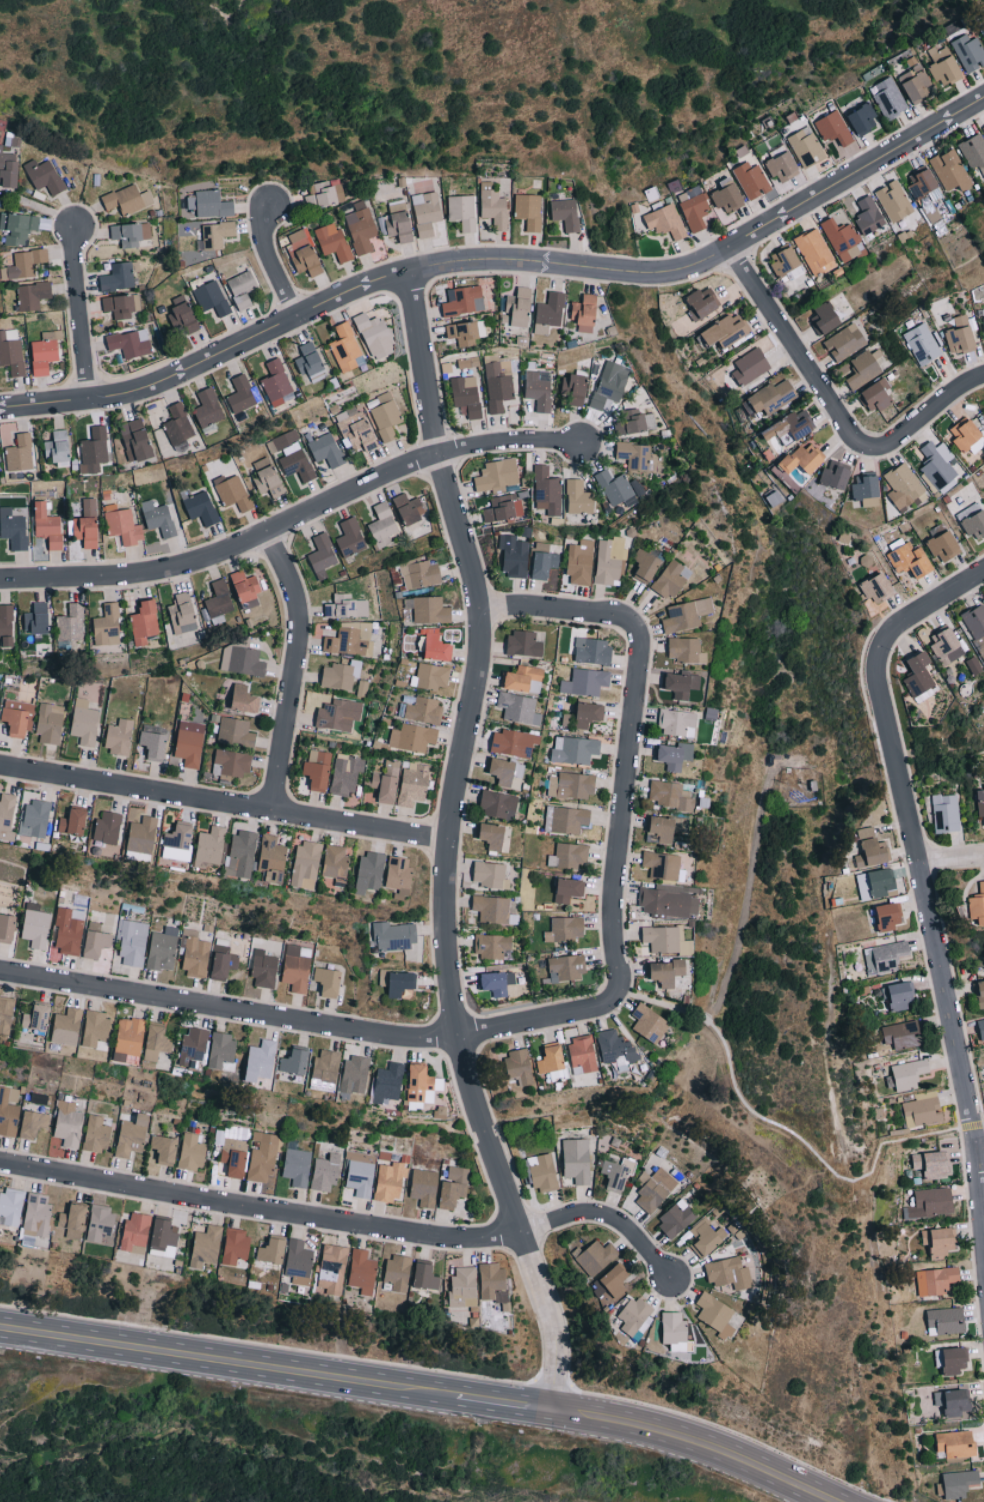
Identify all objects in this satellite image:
building: (982, 29)
building: (969, 53)
building: (944, 66)
building: (916, 83)
building: (890, 97)
building: (863, 119)
building: (983, 127)
building: (833, 128)
building: (805, 147)
building: (973, 152)
building: (783, 167)
building: (8, 169)
building: (950, 171)
building: (44, 176)
building: (750, 180)
building: (324, 193)
building: (727, 196)
building: (128, 199)
building: (894, 201)
building: (210, 204)
building: (493, 206)
building: (693, 208)
building: (462, 211)
building: (528, 211)
building: (426, 213)
building: (565, 214)
building: (869, 216)
building: (665, 221)
building: (397, 222)
building: (18, 227)
building: (360, 227)
building: (131, 234)
building: (217, 235)
building: (332, 241)
building: (843, 241)
building: (815, 252)
building: (303, 253)
road: (502, 260)
road: (275, 261)
building: (26, 263)
building: (785, 263)
building: (117, 277)
building: (242, 289)
building: (32, 296)
building: (211, 299)
building: (463, 301)
building: (702, 304)
building: (122, 306)
building: (519, 307)
road: (85, 313)
building: (549, 313)
building: (585, 313)
building: (183, 316)
building: (826, 318)
building: (726, 331)
building: (466, 332)
building: (376, 336)
building: (960, 336)
building: (845, 342)
building: (130, 343)
building: (922, 345)
building: (345, 348)
building: (11, 352)
building: (45, 352)
building: (310, 361)
building: (750, 367)
building: (863, 370)
building: (277, 384)
building: (610, 384)
building: (496, 387)
building: (575, 389)
building: (538, 391)
building: (241, 395)
building: (466, 396)
building: (877, 397)
building: (770, 398)
road: (834, 401)
building: (208, 408)
building: (384, 416)
building: (636, 424)
building: (178, 427)
building: (791, 428)
building: (357, 432)
building: (966, 435)
building: (136, 440)
building: (283, 441)
building: (57, 446)
building: (326, 450)
building: (93, 451)
building: (19, 454)
building: (637, 457)
building: (804, 459)
building: (297, 465)
building: (937, 465)
building: (497, 475)
building: (836, 475)
building: (268, 478)
building: (902, 486)
building: (614, 487)
building: (866, 487)
building: (547, 490)
building: (233, 492)
building: (579, 497)
building: (201, 508)
building: (409, 509)
building: (502, 509)
building: (160, 520)
road: (297, 520)
building: (973, 521)
building: (87, 524)
building: (122, 525)
building: (382, 525)
building: (48, 526)
building: (13, 529)
building: (350, 537)
building: (943, 543)
building: (322, 555)
building: (515, 555)
building: (609, 559)
building: (544, 560)
building: (910, 561)
building: (581, 562)
building: (646, 565)
building: (419, 573)
building: (672, 578)
building: (246, 585)
building: (877, 587)
building: (218, 599)
building: (346, 606)
building: (428, 609)
road: (562, 612)
building: (183, 613)
building: (686, 614)
building: (37, 618)
building: (144, 621)
building: (71, 623)
building: (6, 624)
building: (107, 625)
building: (350, 638)
building: (524, 643)
building: (945, 643)
building: (437, 647)
building: (593, 650)
building: (686, 650)
building: (242, 660)
road: (298, 669)
building: (914, 672)
building: (341, 674)
building: (431, 676)
building: (523, 678)
building: (585, 681)
building: (686, 686)
building: (243, 698)
building: (519, 707)
building: (421, 709)
building: (339, 714)
building: (585, 715)
building: (16, 717)
building: (676, 721)
building: (84, 722)
building: (49, 723)
building: (236, 732)
building: (119, 736)
building: (413, 737)
building: (154, 741)
building: (189, 742)
building: (513, 742)
building: (575, 749)
building: (675, 754)
building: (234, 761)
building: (318, 769)
building: (508, 772)
building: (345, 774)
building: (386, 781)
building: (572, 785)
building: (670, 795)
road: (225, 802)
building: (977, 803)
building: (498, 804)
building: (944, 813)
road: (623, 815)
building: (6, 816)
building: (35, 817)
building: (566, 818)
building: (73, 821)
building: (107, 827)
building: (662, 828)
building: (142, 835)
building: (495, 836)
building: (179, 841)
road: (450, 845)
building: (210, 848)
building: (871, 849)
building: (242, 853)
road: (918, 853)
building: (569, 855)
building: (272, 858)
road: (952, 861)
building: (305, 864)
building: (335, 864)
building: (662, 865)
building: (369, 871)
building: (490, 874)
building: (399, 876)
building: (882, 882)
building: (569, 889)
building: (667, 902)
building: (976, 905)
building: (493, 909)
building: (889, 916)
building: (36, 925)
building: (7, 927)
building: (566, 928)
building: (68, 931)
building: (397, 938)
building: (666, 940)
building: (96, 941)
building: (133, 943)
building: (492, 946)
building: (163, 949)
building: (195, 953)
building: (886, 955)
building: (224, 962)
building: (297, 967)
building: (264, 968)
building: (566, 968)
building: (329, 981)
building: (497, 982)
building: (399, 983)
building: (977, 993)
building: (900, 994)
building: (6, 1014)
building: (37, 1017)
road: (307, 1023)
building: (650, 1023)
building: (67, 1026)
building: (979, 1029)
building: (97, 1030)
building: (903, 1034)
building: (130, 1040)
building: (157, 1042)
building: (194, 1045)
building: (616, 1048)
building: (222, 1049)
building: (583, 1052)
building: (261, 1060)
building: (295, 1062)
building: (518, 1067)
building: (325, 1071)
building: (355, 1074)
building: (909, 1074)
building: (389, 1081)
building: (421, 1083)
building: (9, 1110)
building: (922, 1111)
building: (34, 1124)
building: (69, 1124)
road: (785, 1130)
building: (97, 1134)
building: (132, 1135)
road: (982, 1142)
building: (165, 1149)
building: (191, 1152)
building: (234, 1160)
building: (577, 1160)
building: (262, 1162)
building: (931, 1164)
building: (297, 1166)
building: (325, 1172)
building: (359, 1172)
building: (543, 1173)
building: (390, 1181)
building: (453, 1186)
building: (424, 1187)
building: (656, 1190)
building: (931, 1203)
building: (11, 1206)
building: (37, 1216)
building: (676, 1219)
building: (74, 1221)
road: (346, 1221)
building: (101, 1223)
building: (136, 1233)
building: (705, 1239)
building: (939, 1241)
building: (206, 1246)
building: (235, 1246)
building: (272, 1251)
building: (596, 1257)
building: (299, 1262)
building: (333, 1268)
building: (362, 1271)
building: (398, 1271)
building: (729, 1273)
building: (426, 1276)
building: (941, 1280)
building: (612, 1284)
building: (495, 1286)
building: (465, 1287)
building: (716, 1315)
building: (635, 1317)
building: (946, 1320)
building: (675, 1331)
building: (952, 1359)
road: (223, 1362)
building: (953, 1402)
road: (502, 1405)
building: (956, 1444)
road: (700, 1445)
building: (958, 1484)

